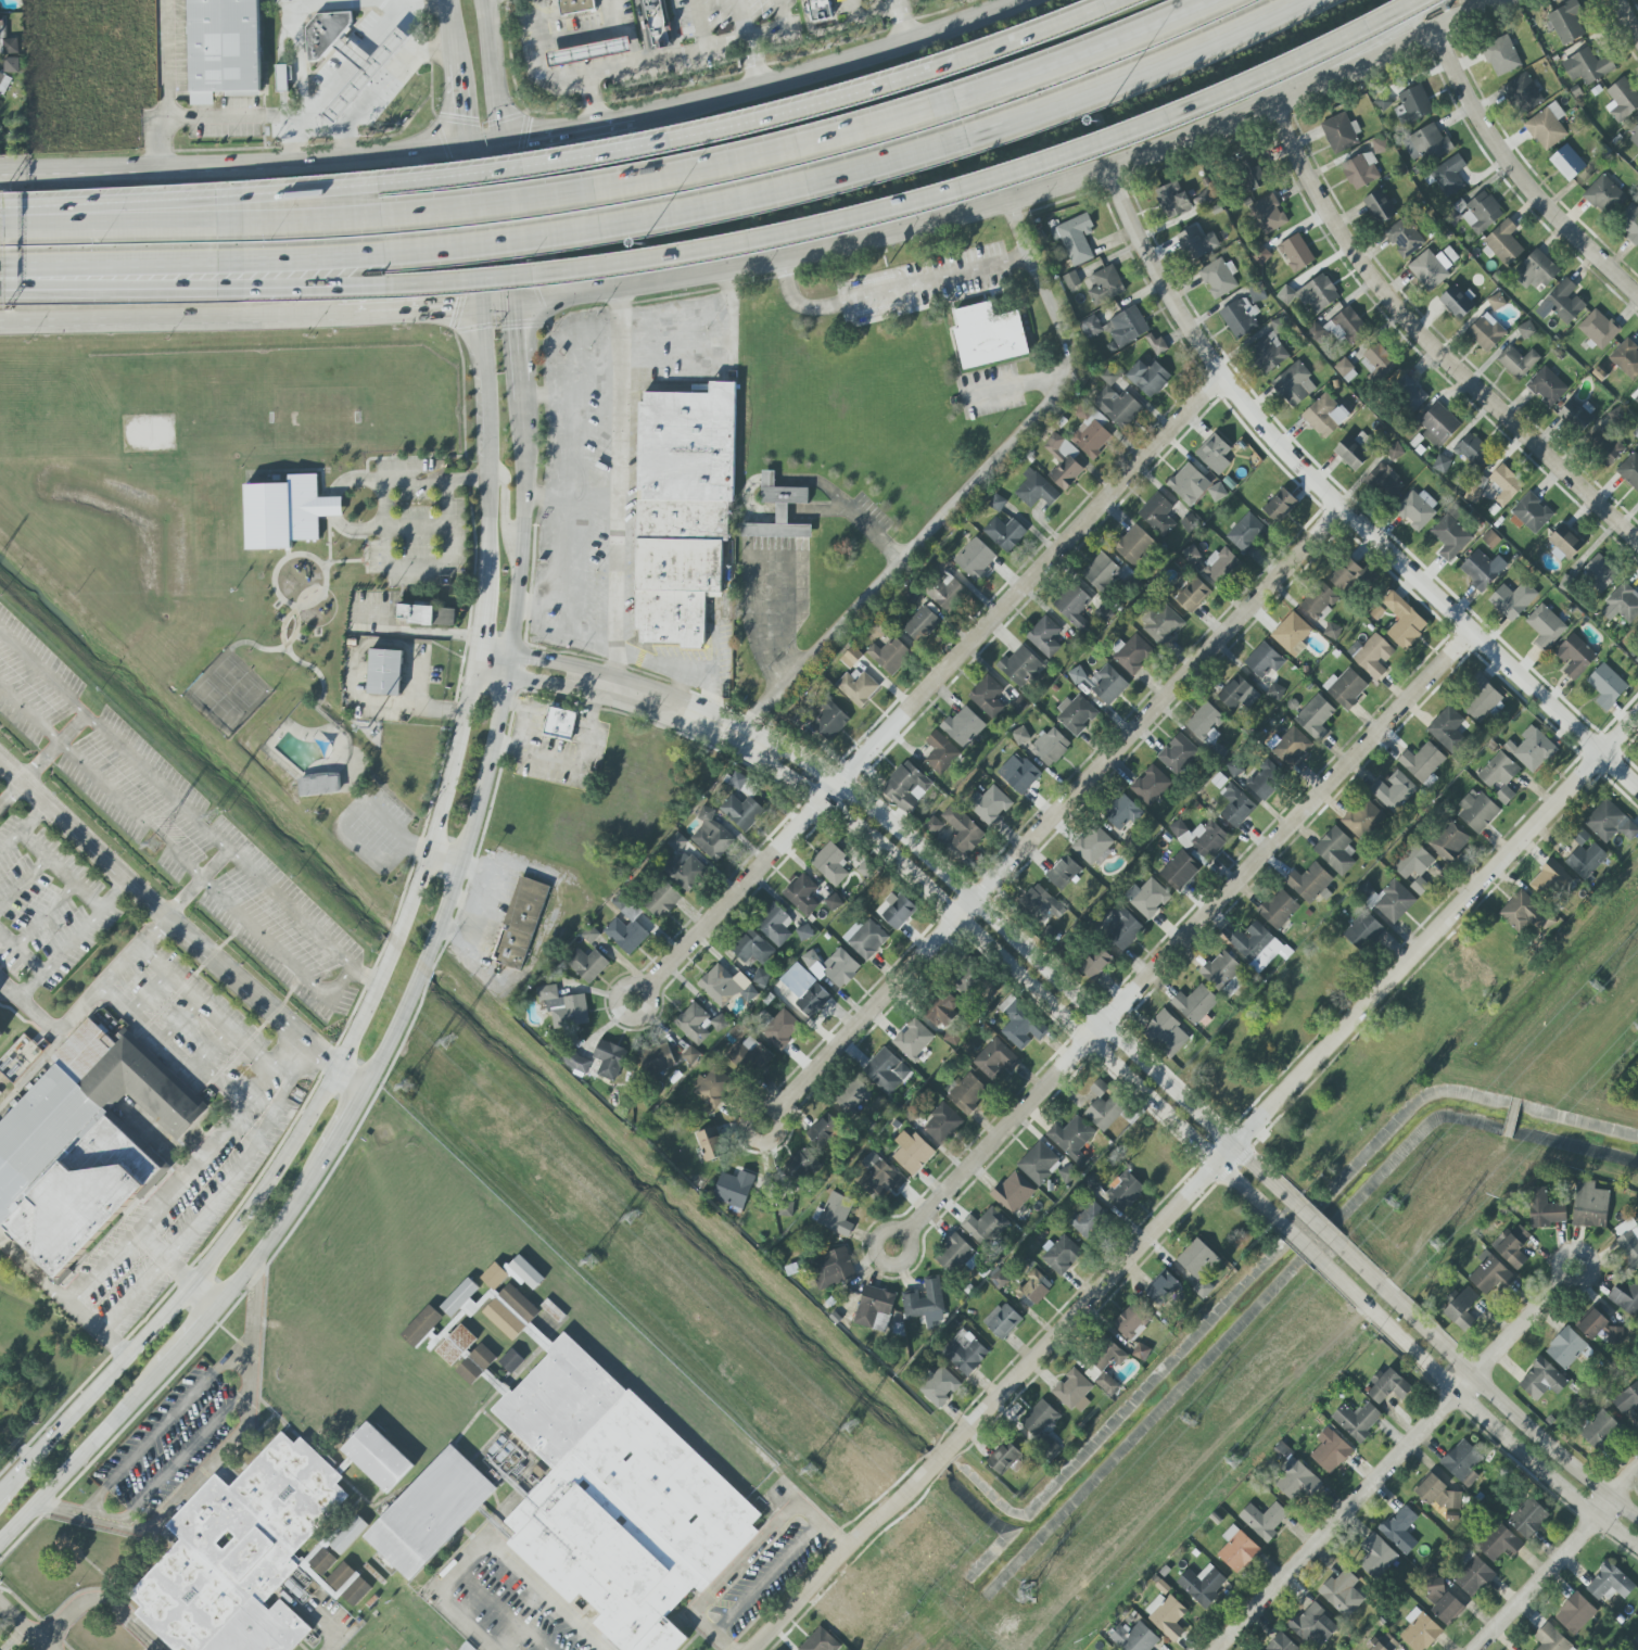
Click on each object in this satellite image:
parking lot: (847, 0)
road: (1034, 0)
building: (579, 7)
building: (820, 9)
road: (1095, 10)
road: (1630, 12)
road: (871, 14)
road: (744, 18)
building: (1566, 22)
building: (661, 23)
road: (907, 23)
road: (642, 28)
parking lot: (740, 29)
road: (782, 29)
road: (589, 30)
road: (817, 31)
road: (452, 37)
building: (7, 40)
road: (707, 42)
road: (297, 46)
building: (224, 49)
road: (1357, 49)
road: (1094, 51)
building: (585, 55)
building: (1501, 55)
building: (353, 58)
road: (755, 64)
building: (11, 65)
building: (1587, 66)
road: (586, 68)
road: (839, 68)
road: (1277, 72)
road: (492, 75)
road: (1146, 75)
building: (285, 81)
road: (167, 85)
building: (1524, 93)
road: (391, 97)
road: (591, 99)
building: (1622, 100)
building: (1414, 104)
road: (458, 115)
road: (253, 116)
traffic signals: (459, 116)
road: (601, 127)
building: (1547, 127)
building: (1341, 132)
building: (1634, 136)
road: (536, 142)
building: (1426, 143)
traffic signals: (525, 145)
road: (650, 149)
road: (483, 153)
building: (1567, 163)
road: (231, 168)
traffic signals: (507, 170)
building: (1360, 170)
road: (1527, 173)
building: (1250, 174)
building: (1449, 175)
road: (591, 190)
road: (1026, 194)
building: (1603, 194)
building: (1172, 200)
building: (1380, 206)
building: (1478, 212)
road: (144, 214)
building: (1268, 214)
road: (145, 223)
building: (1629, 224)
road: (37, 225)
road: (545, 226)
road: (512, 227)
road: (597, 227)
road: (471, 231)
road: (439, 236)
building: (1075, 238)
building: (1404, 238)
building: (1196, 242)
building: (1503, 242)
building: (1296, 253)
road: (677, 254)
building: (1261, 256)
road: (109, 265)
building: (1432, 267)
building: (1536, 270)
building: (1218, 278)
building: (1071, 280)
traffic signals: (479, 283)
building: (1105, 285)
road: (1041, 289)
road: (890, 290)
road: (107, 292)
building: (1312, 294)
building: (1496, 302)
building: (1562, 303)
road: (500, 305)
road: (439, 307)
traffic signals: (449, 307)
road: (367, 309)
road: (168, 314)
building: (1240, 317)
building: (1117, 327)
building: (1339, 327)
traffic signals: (521, 329)
building: (1526, 329)
building: (1598, 329)
building: (1486, 332)
building: (988, 335)
road: (1437, 339)
road: (522, 353)
building: (1268, 353)
building: (1626, 358)
building: (1379, 363)
building: (1519, 363)
building: (1344, 367)
building: (1148, 378)
building: (1294, 384)
building: (1637, 385)
building: (1547, 386)
road: (1029, 390)
building: (1409, 392)
building: (1636, 398)
building: (1116, 402)
building: (1324, 416)
building: (1575, 416)
building: (1438, 426)
building: (1091, 434)
road: (490, 442)
road: (626, 443)
building: (1604, 446)
building: (1354, 449)
building: (1473, 450)
building: (1214, 454)
building: (1063, 461)
building: (1442, 465)
building: (1629, 470)
road: (406, 480)
building: (1384, 482)
building: (1504, 484)
building: (1194, 485)
building: (1034, 490)
building: (996, 503)
building: (1280, 505)
road: (505, 507)
road: (1341, 508)
building: (1415, 508)
building: (682, 509)
building: (778, 510)
building: (285, 511)
road: (785, 512)
building: (1532, 512)
building: (1157, 513)
road: (863, 522)
road: (544, 528)
building: (1004, 533)
building: (1246, 533)
building: (1450, 537)
road: (414, 541)
building: (1564, 543)
building: (1134, 545)
building: (1191, 554)
building: (975, 559)
road: (904, 562)
building: (1220, 566)
building: (1482, 569)
building: (1599, 571)
building: (1101, 572)
building: (1346, 574)
building: (947, 593)
building: (1193, 595)
road: (789, 597)
building: (1318, 600)
building: (1512, 600)
road: (750, 604)
building: (1622, 604)
building: (1074, 607)
road: (478, 609)
building: (427, 615)
building: (1404, 621)
building: (922, 624)
building: (1160, 624)
building: (1546, 626)
building: (1332, 631)
building: (1292, 633)
building: (1044, 636)
road: (436, 637)
road: (492, 646)
road: (472, 652)
building: (1133, 655)
building: (890, 656)
building: (1574, 656)
building: (1373, 657)
building: (851, 658)
building: (1264, 660)
building: (1019, 665)
building: (384, 672)
building: (1077, 675)
building: (1107, 685)
building: (1607, 686)
building: (858, 688)
building: (1345, 688)
road: (927, 690)
building: (1275, 691)
building: (1237, 694)
building: (987, 696)
building: (1483, 699)
road: (559, 705)
building: (1075, 714)
building: (1315, 716)
building: (829, 720)
building: (559, 723)
building: (1205, 723)
building: (963, 726)
road: (585, 729)
building: (1447, 729)
road: (524, 731)
building: (1020, 736)
building: (1050, 747)
building: (1290, 747)
road: (55, 749)
building: (1531, 749)
building: (940, 752)
building: (1178, 753)
road: (485, 757)
road: (549, 759)
building: (1423, 763)
building: (1233, 769)
road: (11, 770)
building: (1500, 775)
building: (1023, 776)
building: (1266, 779)
building: (737, 782)
building: (319, 784)
building: (1151, 785)
building: (906, 786)
road: (98, 787)
building: (1393, 791)
road: (364, 805)
building: (991, 805)
building: (1235, 805)
road: (188, 812)
building: (741, 812)
building: (1122, 812)
building: (1476, 812)
road: (1051, 815)
building: (1362, 818)
power tower: (215, 820)
building: (1610, 823)
building: (935, 825)
road: (23, 827)
building: (963, 830)
building: (711, 836)
building: (1202, 837)
building: (1582, 838)
power tower: (151, 841)
building: (676, 842)
building: (1448, 842)
building: (1093, 846)
building: (1336, 851)
building: (1586, 861)
building: (830, 863)
road: (213, 867)
road: (61, 870)
road: (937, 871)
building: (1179, 871)
building: (1417, 871)
building: (687, 872)
building: (1063, 872)
road: (912, 879)
building: (1550, 879)
building: (1309, 883)
road: (24, 884)
building: (801, 894)
building: (1147, 898)
road: (464, 899)
building: (662, 900)
building: (1393, 901)
building: (834, 902)
building: (1040, 903)
road: (478, 904)
building: (1278, 909)
building: (899, 910)
building: (1521, 912)
road: (46, 916)
building: (520, 924)
road: (180, 925)
building: (775, 925)
building: (1121, 928)
building: (1363, 931)
building: (628, 932)
road: (75, 938)
building: (865, 938)
road: (1183, 939)
road: (255, 941)
building: (1257, 945)
building: (752, 948)
road: (21, 955)
building: (810, 959)
building: (1095, 963)
building: (586, 964)
building: (840, 967)
building: (1220, 970)
building: (1461, 970)
building: (761, 977)
building: (964, 979)
building: (1489, 980)
power tower: (1600, 986)
building: (723, 987)
building: (805, 990)
road: (148, 992)
road: (86, 1004)
building: (1195, 1004)
building: (563, 1007)
building: (941, 1007)
road: (205, 1008)
road: (178, 1020)
power tower: (1637, 1021)
building: (719, 1023)
building: (694, 1024)
building: (1021, 1026)
building: (780, 1029)
building: (0, 1033)
building: (1166, 1035)
building: (912, 1039)
power tower: (455, 1040)
road: (291, 1044)
road: (165, 1045)
building: (690, 1055)
building: (747, 1056)
building: (994, 1058)
building: (609, 1059)
building: (657, 1061)
road: (291, 1062)
building: (575, 1062)
road: (277, 1063)
building: (886, 1071)
power tower: (409, 1080)
road: (220, 1082)
building: (712, 1087)
building: (1099, 1088)
building: (967, 1093)
building: (852, 1096)
building: (1104, 1113)
road: (306, 1114)
building: (942, 1124)
road: (342, 1126)
building: (824, 1130)
building: (1071, 1138)
building: (710, 1144)
building: (85, 1145)
building: (913, 1153)
building: (1039, 1164)
building: (801, 1165)
road: (239, 1167)
building: (879, 1176)
road: (1199, 1186)
building: (734, 1189)
road: (174, 1191)
building: (1013, 1192)
building: (1125, 1192)
power tower: (1399, 1205)
building: (1590, 1205)
building: (1545, 1209)
building: (835, 1215)
power tower: (636, 1216)
building: (1089, 1220)
road: (1315, 1222)
building: (985, 1227)
road: (272, 1236)
building: (1628, 1241)
road: (1296, 1242)
power tower: (1431, 1242)
road: (155, 1246)
building: (1512, 1246)
building: (954, 1254)
building: (1062, 1255)
power tower: (592, 1259)
building: (1198, 1266)
building: (833, 1267)
road: (179, 1270)
building: (524, 1272)
building: (1488, 1274)
road: (1370, 1275)
building: (494, 1277)
building: (999, 1279)
building: (1033, 1286)
building: (1163, 1287)
road: (203, 1294)
road: (1351, 1294)
road: (135, 1296)
building: (1626, 1297)
road: (62, 1298)
building: (926, 1304)
building: (1461, 1308)
building: (875, 1309)
building: (498, 1310)
building: (1002, 1320)
building: (1131, 1321)
building: (1592, 1324)
building: (421, 1325)
building: (1614, 1335)
road: (189, 1337)
building: (456, 1345)
building: (1565, 1348)
building: (1141, 1351)
building: (965, 1353)
building: (1108, 1356)
building: (511, 1361)
building: (477, 1363)
building: (1541, 1380)
building: (1106, 1383)
building: (1388, 1386)
building: (939, 1387)
building: (1074, 1392)
building: (1627, 1399)
road: (1518, 1417)
building: (1357, 1421)
power tower: (1194, 1422)
road: (165, 1424)
building: (1041, 1425)
power tower: (852, 1427)
building: (1599, 1429)
road: (1508, 1440)
building: (1331, 1451)
road: (80, 1456)
building: (379, 1457)
road: (217, 1458)
building: (1007, 1459)
road: (1399, 1460)
building: (1462, 1462)
power tower: (813, 1470)
road: (164, 1477)
building: (1296, 1483)
road: (1, 1488)
building: (617, 1498)
building: (431, 1512)
building: (1528, 1518)
building: (1264, 1520)
building: (1399, 1530)
building: (347, 1535)
building: (1499, 1543)
road: (492, 1545)
building: (1236, 1549)
building: (241, 1553)
road: (750, 1553)
building: (1376, 1557)
road: (1558, 1560)
building: (1473, 1576)
road: (767, 1578)
building: (1609, 1583)
building: (1202, 1585)
building: (1343, 1592)
power tower: (1031, 1594)
road: (101, 1599)
building: (1443, 1602)
road: (503, 1607)
building: (1575, 1613)
building: (1167, 1615)
building: (852, 1623)
building: (1312, 1625)
road: (23, 1627)
road: (331, 1627)
building: (1419, 1630)
building: (1134, 1638)
road: (538, 1639)
building: (1551, 1639)
building: (820, 1641)
building: (1281, 1643)
building: (1383, 1643)
building: (1635, 1643)
park: (958, 1647)

